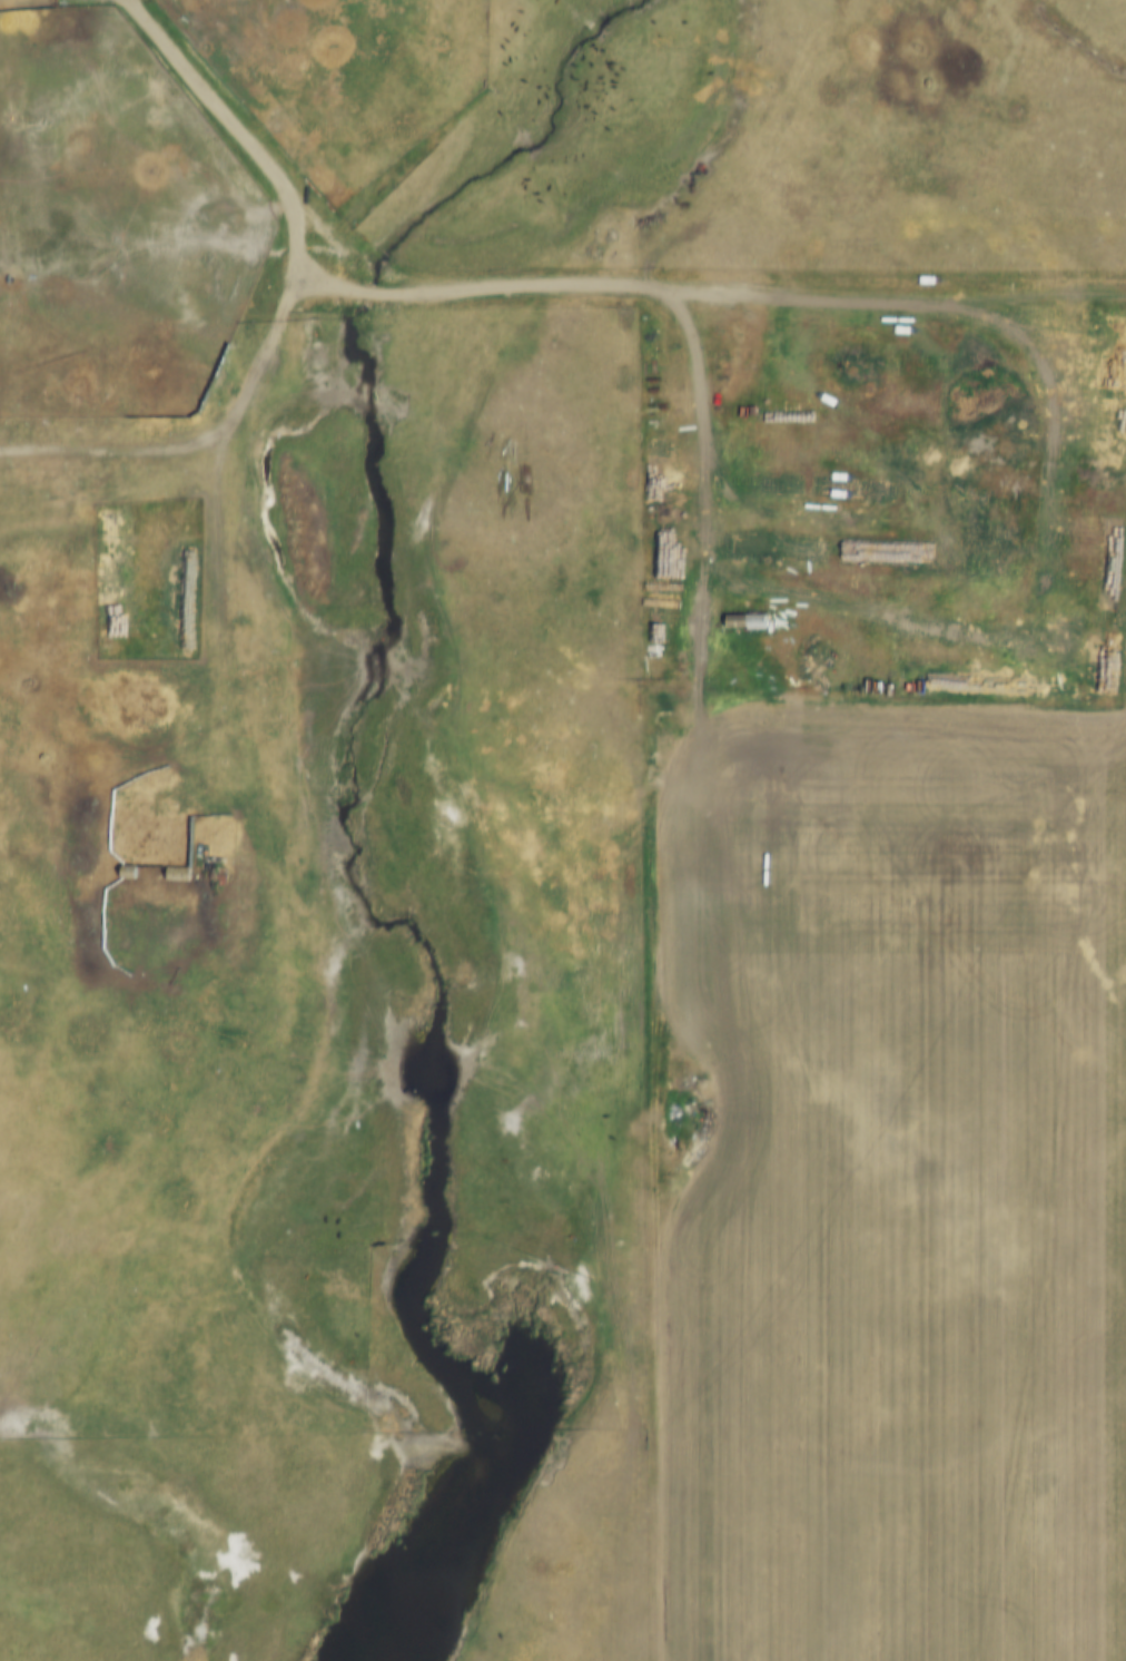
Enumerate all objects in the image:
road: (205, 101)
road: (708, 285)
road: (707, 362)
road: (223, 448)
road: (118, 453)
building: (757, 620)
building: (739, 626)
building: (157, 872)
building: (120, 875)
building: (170, 879)
road: (628, 973)

